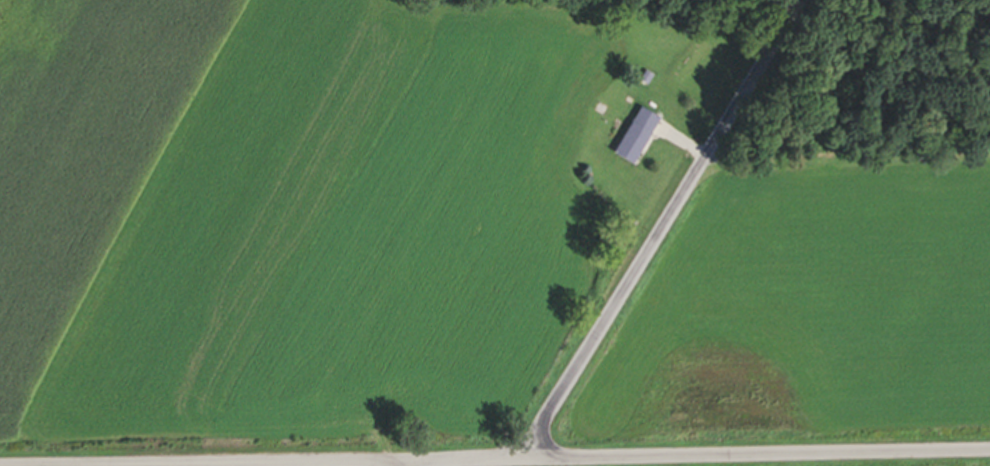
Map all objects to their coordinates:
building: (636, 137)
road: (663, 226)
road: (495, 459)
road: (410, 463)

